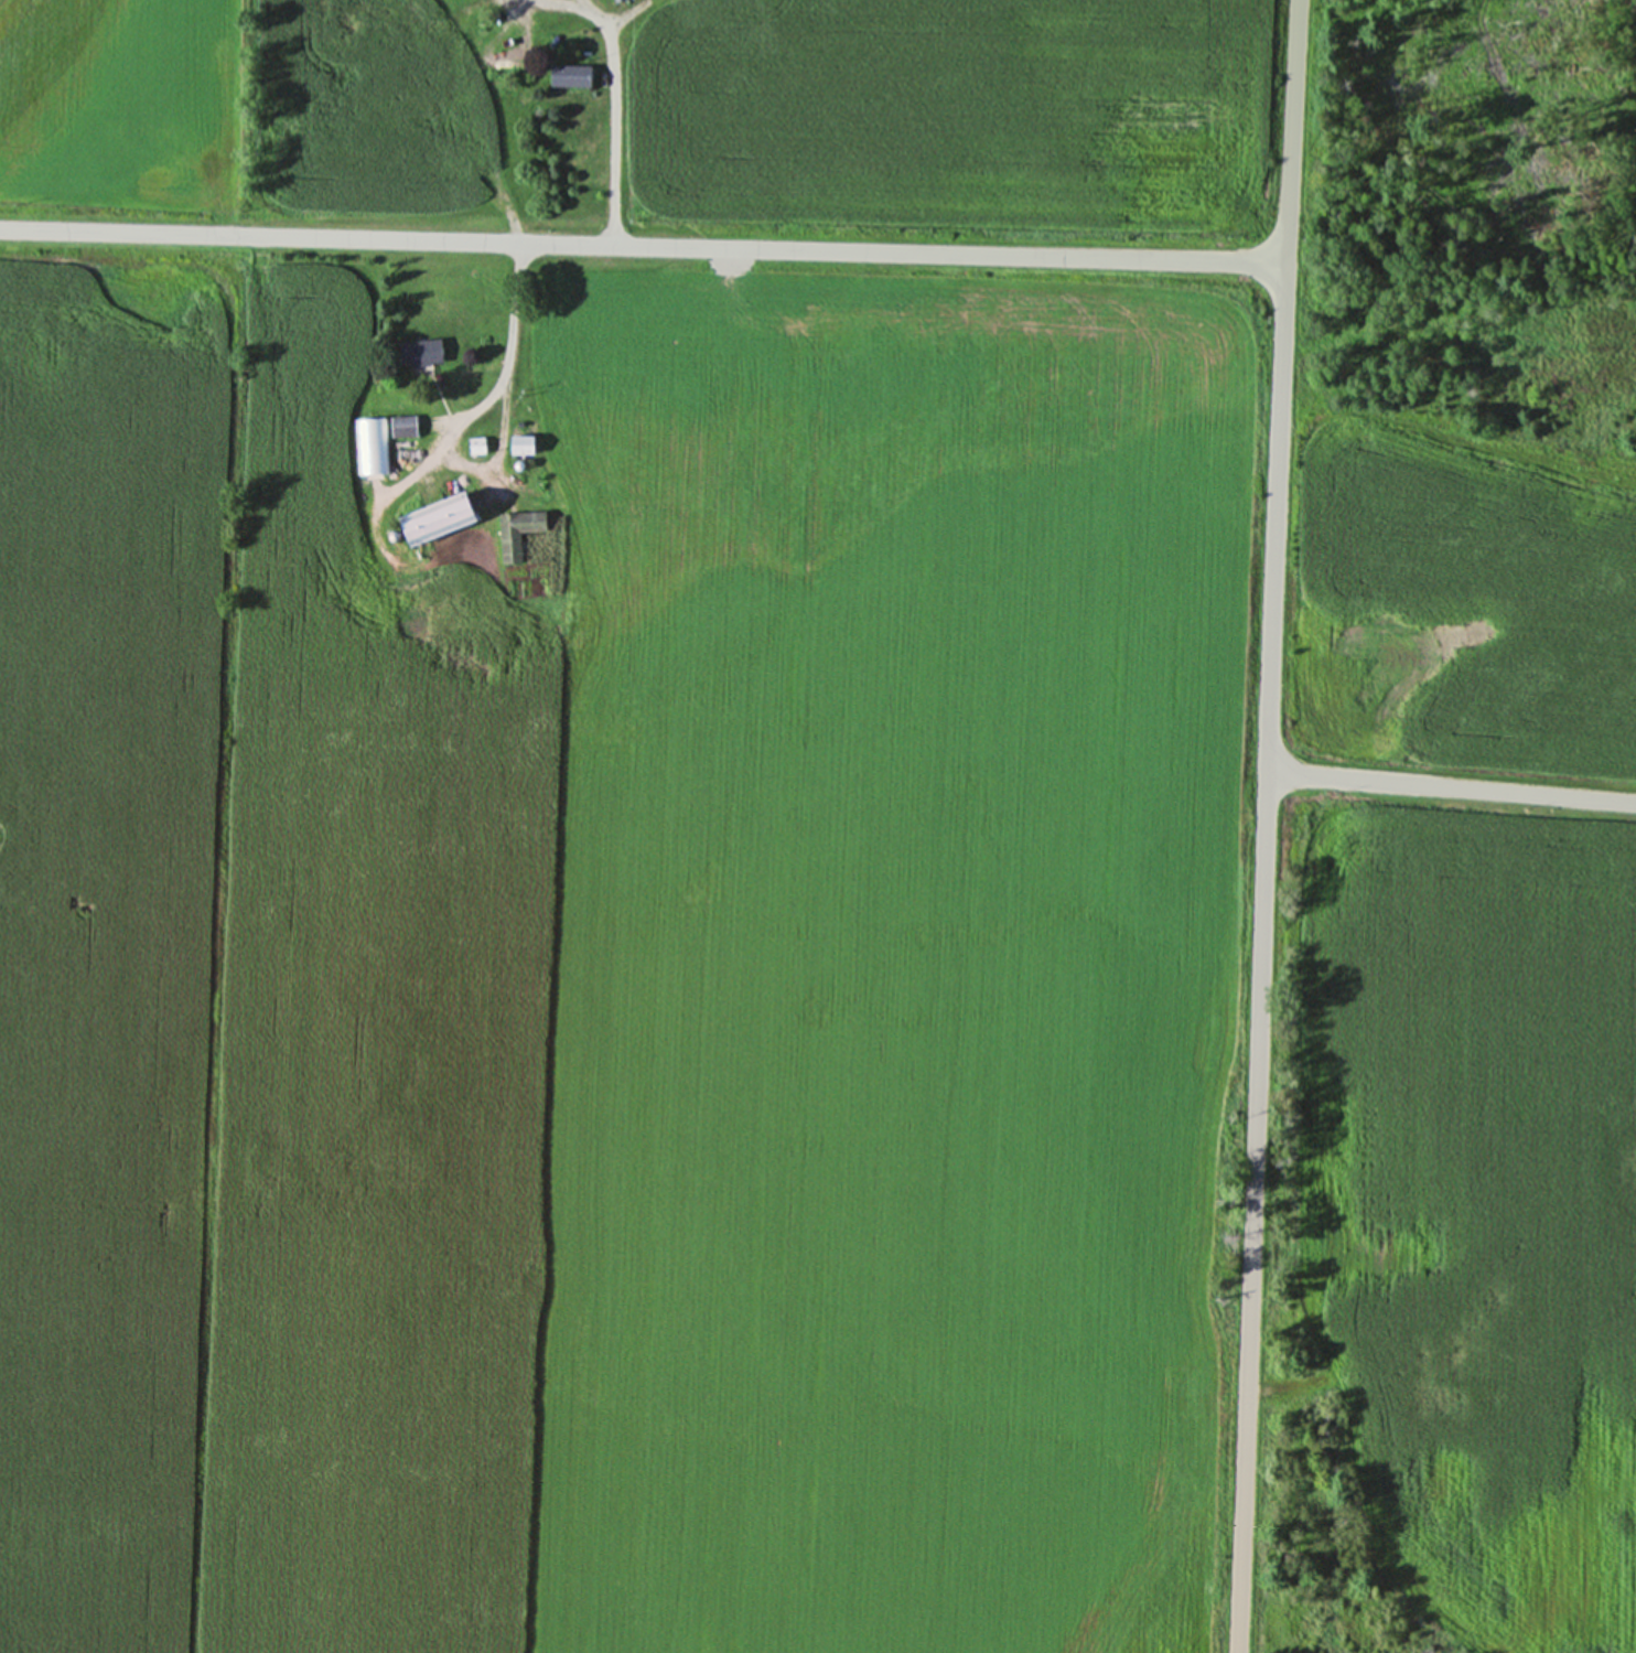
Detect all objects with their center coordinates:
building: (372, 26)
building: (568, 75)
road: (615, 98)
road: (641, 245)
building: (418, 351)
road: (506, 364)
building: (401, 426)
building: (518, 440)
building: (475, 444)
building: (370, 446)
building: (431, 518)
building: (516, 532)
road: (1451, 785)
road: (1263, 826)

